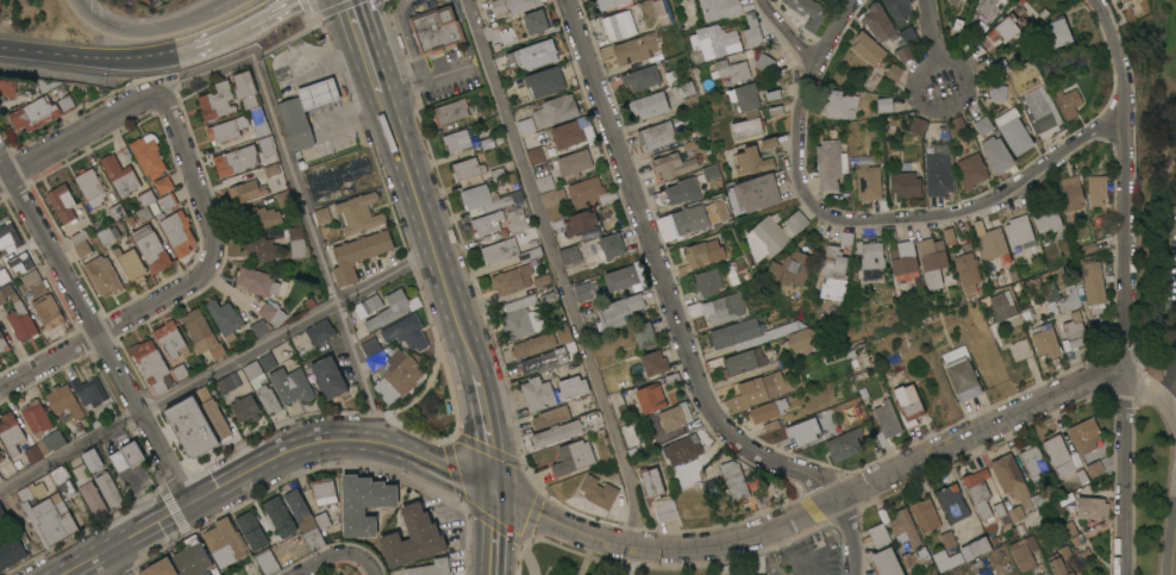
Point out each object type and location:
building: (1116, 0)
building: (1127, 0)
building: (953, 1)
road: (220, 2)
building: (609, 2)
building: (513, 5)
building: (719, 7)
building: (899, 8)
building: (988, 8)
building: (661, 11)
building: (808, 12)
building: (536, 21)
building: (878, 23)
building: (618, 24)
road: (238, 25)
building: (1005, 27)
road: (143, 29)
building: (436, 30)
building: (752, 30)
road: (834, 32)
road: (931, 32)
building: (1055, 32)
road: (301, 33)
building: (908, 33)
building: (714, 40)
road: (363, 45)
building: (868, 46)
building: (637, 48)
building: (533, 54)
building: (902, 54)
road: (94, 56)
road: (1120, 58)
building: (764, 62)
building: (997, 65)
building: (732, 69)
building: (894, 71)
building: (642, 76)
building: (544, 81)
building: (6, 88)
building: (999, 90)
building: (245, 93)
building: (318, 94)
building: (744, 95)
road: (917, 99)
building: (215, 101)
building: (1066, 101)
building: (692, 102)
building: (65, 104)
building: (649, 104)
building: (842, 104)
building: (884, 104)
building: (1039, 107)
building: (555, 110)
building: (452, 111)
building: (33, 113)
building: (688, 120)
building: (747, 124)
building: (917, 124)
building: (957, 124)
building: (983, 124)
building: (526, 125)
building: (293, 126)
building: (225, 130)
building: (261, 130)
building: (1014, 130)
building: (574, 132)
road: (76, 135)
building: (656, 135)
building: (456, 139)
building: (768, 142)
building: (265, 146)
building: (996, 152)
building: (534, 154)
building: (148, 155)
building: (234, 161)
building: (267, 161)
building: (752, 161)
building: (574, 162)
building: (830, 163)
building: (673, 164)
building: (467, 168)
road: (192, 170)
building: (270, 170)
building: (971, 170)
building: (711, 171)
building: (938, 173)
building: (119, 176)
building: (317, 181)
building: (544, 182)
building: (868, 182)
building: (906, 183)
building: (162, 186)
building: (89, 188)
building: (1096, 189)
building: (245, 192)
building: (589, 192)
building: (677, 192)
building: (753, 193)
building: (1071, 196)
building: (282, 198)
road: (300, 198)
building: (486, 199)
building: (167, 201)
building: (62, 204)
building: (145, 206)
building: (553, 206)
building: (115, 212)
building: (356, 214)
building: (321, 215)
building: (258, 218)
building: (693, 218)
building: (1047, 219)
building: (500, 220)
building: (580, 221)
road: (863, 221)
building: (1019, 230)
road: (429, 231)
building: (176, 232)
building: (774, 233)
building: (107, 235)
building: (7, 237)
building: (845, 237)
building: (295, 242)
building: (990, 242)
building: (80, 244)
building: (605, 245)
building: (150, 249)
building: (258, 249)
building: (507, 250)
building: (703, 252)
building: (570, 254)
building: (357, 255)
building: (903, 257)
building: (870, 260)
building: (932, 260)
building: (23, 264)
building: (130, 265)
building: (790, 268)
building: (968, 270)
road: (558, 271)
building: (833, 274)
building: (2, 276)
building: (102, 276)
building: (621, 277)
building: (511, 279)
building: (708, 281)
building: (32, 283)
building: (261, 283)
building: (1093, 285)
building: (582, 290)
building: (7, 293)
building: (1071, 294)
building: (308, 302)
building: (370, 304)
building: (413, 304)
building: (1001, 305)
building: (725, 307)
building: (388, 310)
building: (618, 311)
building: (46, 312)
building: (271, 313)
road: (677, 317)
building: (224, 319)
building: (521, 321)
building: (20, 323)
road: (112, 326)
building: (786, 327)
road: (94, 329)
building: (259, 329)
building: (1075, 329)
building: (319, 332)
building: (405, 332)
building: (736, 332)
building: (564, 333)
building: (644, 333)
building: (200, 335)
building: (169, 338)
building: (1045, 339)
building: (807, 340)
building: (533, 344)
building: (2, 345)
building: (369, 346)
road: (1122, 348)
building: (183, 351)
building: (265, 361)
building: (543, 361)
building: (744, 361)
building: (375, 362)
building: (655, 362)
building: (150, 364)
road: (217, 369)
building: (179, 371)
building: (400, 371)
building: (961, 373)
building: (327, 377)
road: (1165, 383)
building: (224, 385)
building: (289, 386)
building: (571, 387)
building: (259, 388)
building: (757, 390)
building: (88, 392)
building: (537, 393)
building: (201, 396)
building: (651, 398)
building: (58, 399)
road: (1161, 399)
building: (908, 404)
building: (245, 410)
building: (768, 410)
building: (550, 415)
building: (675, 415)
building: (35, 418)
building: (824, 420)
building: (215, 421)
building: (886, 421)
building: (95, 424)
building: (803, 430)
building: (556, 432)
building: (10, 433)
road: (486, 433)
building: (1084, 435)
building: (844, 443)
building: (44, 446)
road: (294, 449)
building: (683, 449)
building: (1058, 454)
building: (573, 456)
building: (0, 457)
building: (125, 457)
building: (1033, 460)
building: (90, 461)
building: (17, 464)
building: (1094, 468)
building: (0, 479)
building: (731, 479)
building: (1011, 479)
building: (62, 482)
building: (651, 482)
building: (107, 489)
building: (88, 490)
building: (978, 490)
building: (598, 492)
traffic signals: (494, 494)
building: (952, 501)
building: (1062, 502)
building: (363, 504)
road: (822, 504)
building: (1091, 507)
building: (311, 511)
building: (664, 511)
building: (332, 512)
building: (1015, 513)
building: (925, 514)
building: (1, 515)
building: (46, 515)
building: (277, 517)
building: (905, 527)
building: (1069, 529)
building: (250, 531)
road: (492, 535)
building: (412, 538)
building: (947, 539)
building: (223, 543)
building: (975, 548)
building: (883, 551)
building: (11, 552)
building: (1021, 554)
building: (1063, 554)
road: (334, 555)
road: (1174, 556)
building: (190, 557)
building: (945, 558)
road: (82, 561)
road: (114, 561)
building: (911, 561)
building: (264, 562)
building: (1057, 565)
building: (982, 567)
building: (158, 568)
building: (431, 568)
building: (195, 574)

